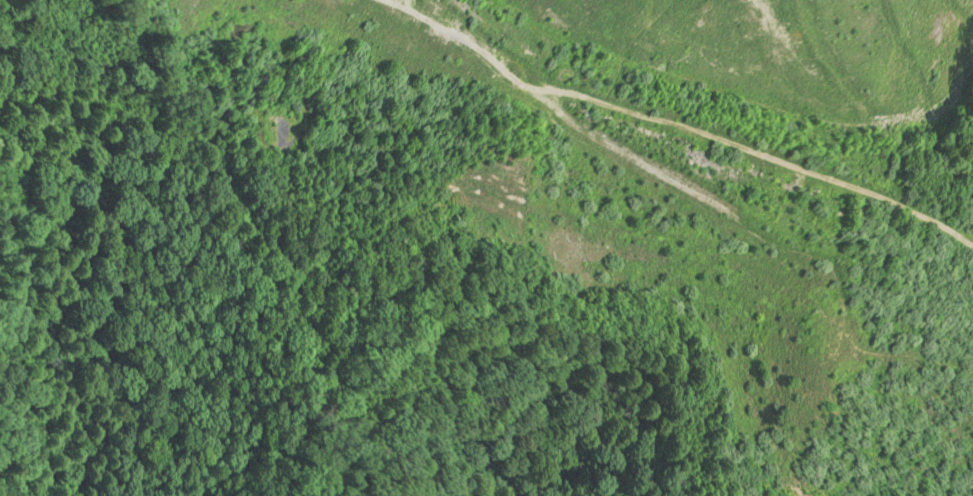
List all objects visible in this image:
quarry: (563, 67)

